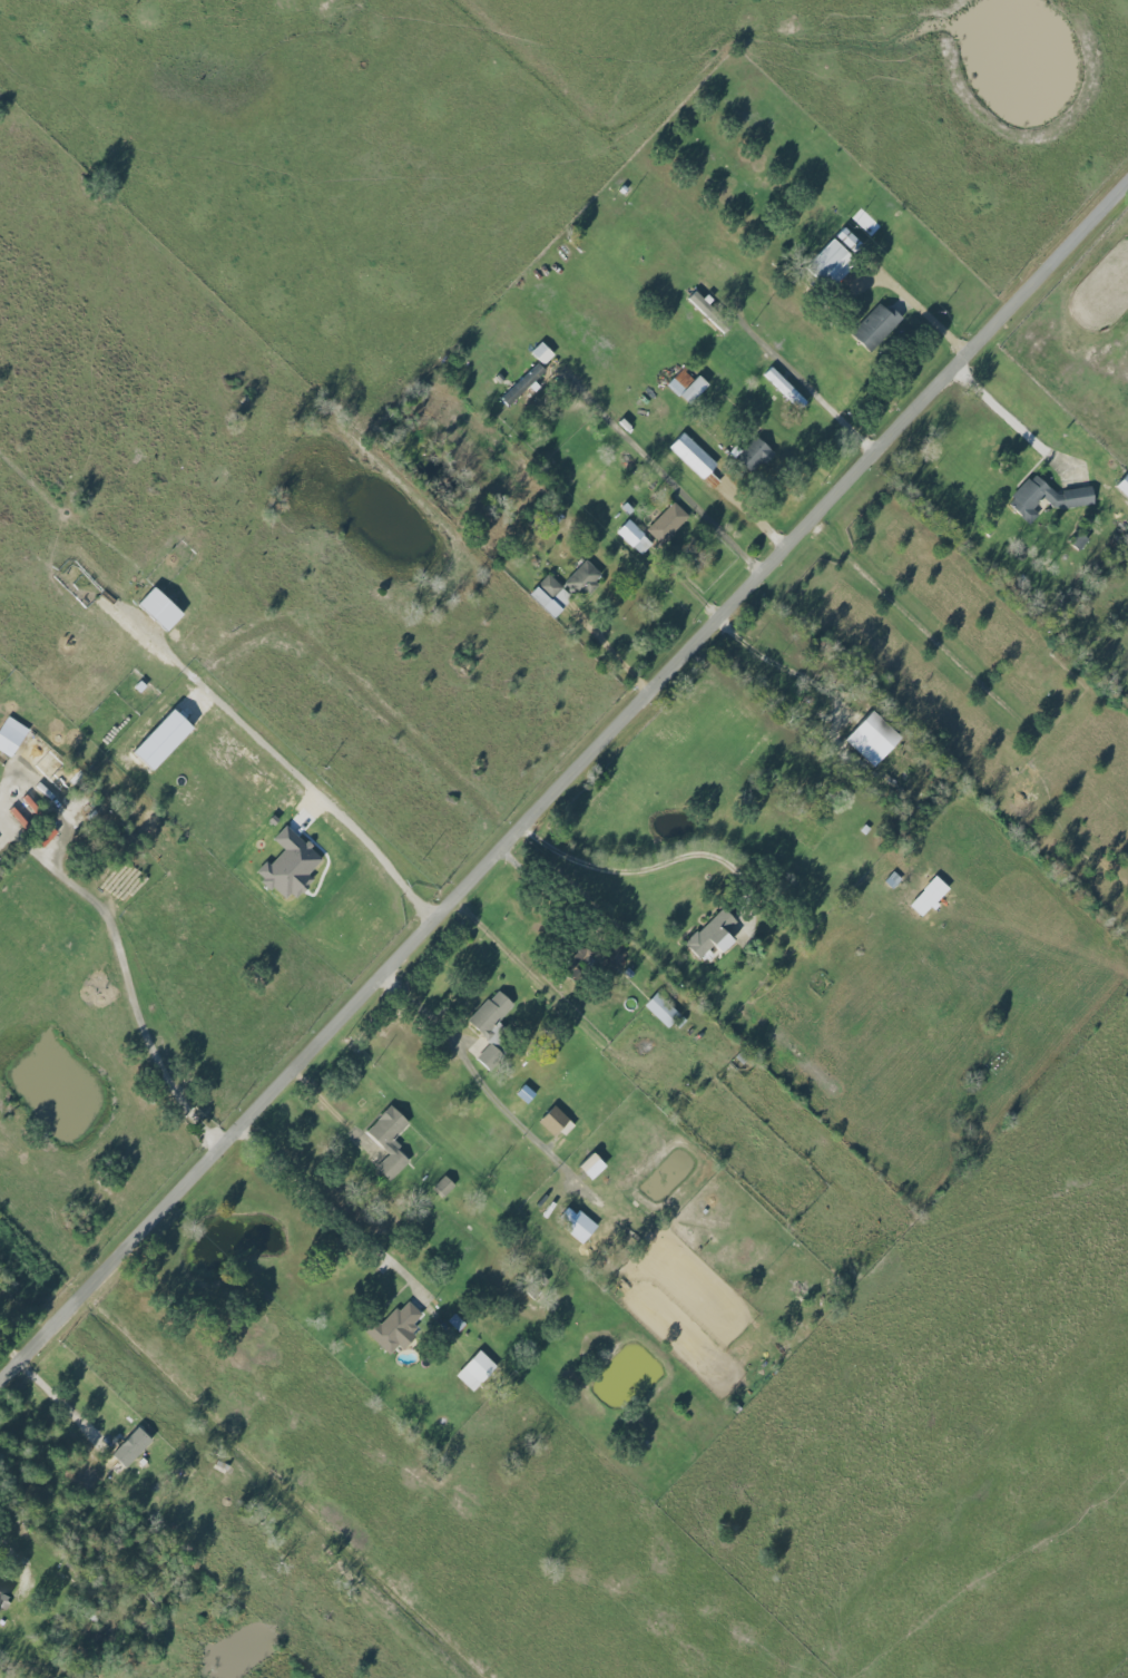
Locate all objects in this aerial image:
building: (849, 238)
building: (833, 261)
road: (924, 309)
building: (709, 312)
building: (875, 326)
building: (542, 353)
road: (805, 380)
building: (783, 384)
building: (522, 386)
building: (687, 386)
road: (1010, 412)
building: (754, 455)
building: (693, 456)
road: (664, 476)
building: (1124, 485)
building: (1048, 497)
road: (749, 514)
building: (667, 523)
building: (634, 537)
building: (583, 578)
building: (551, 595)
building: (160, 608)
road: (610, 648)
road: (775, 663)
building: (11, 735)
building: (873, 738)
building: (163, 739)
building: (42, 754)
road: (562, 782)
road: (326, 804)
building: (47, 836)
road: (625, 870)
building: (892, 879)
building: (922, 904)
building: (714, 934)
building: (577, 955)
building: (614, 955)
road: (538, 982)
building: (663, 1009)
building: (491, 1026)
road: (473, 1064)
building: (526, 1094)
road: (331, 1112)
building: (556, 1122)
road: (215, 1128)
building: (389, 1141)
building: (444, 1186)
building: (577, 1223)
road: (24, 1305)
building: (457, 1321)
building: (395, 1328)
road: (11, 1347)
building: (477, 1370)
road: (57, 1402)
building: (122, 1450)
building: (2, 1597)

